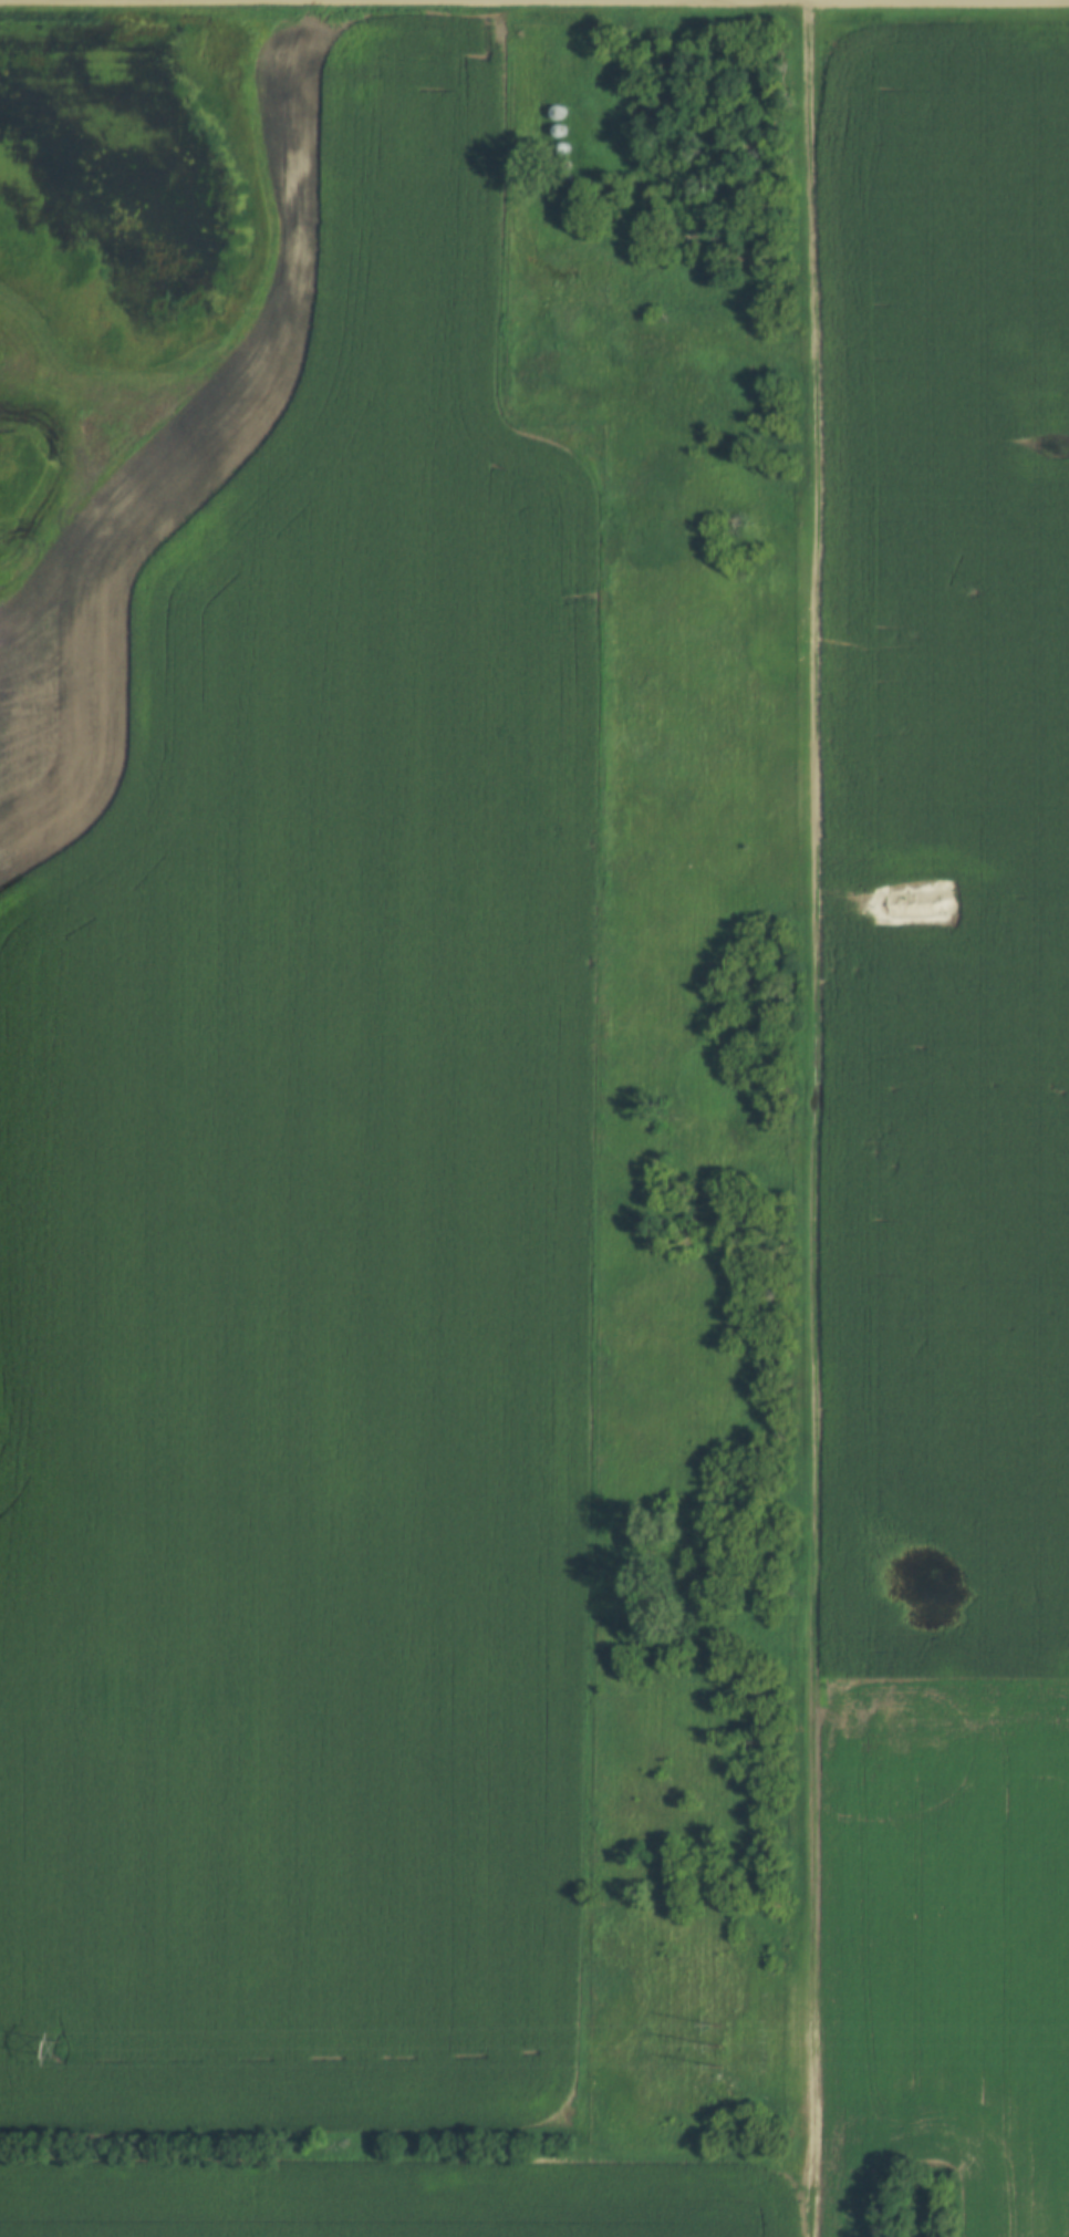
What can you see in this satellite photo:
road: (806, 0)
road: (871, 1)
building: (554, 114)
silo: (554, 114)
building: (559, 133)
silo: (559, 133)
building: (563, 151)
silo: (563, 151)
crop: (287, 1099)
crop: (945, 1112)
road: (818, 1118)
power tower: (56, 2048)
power tower: (718, 2048)
crop: (399, 2194)

